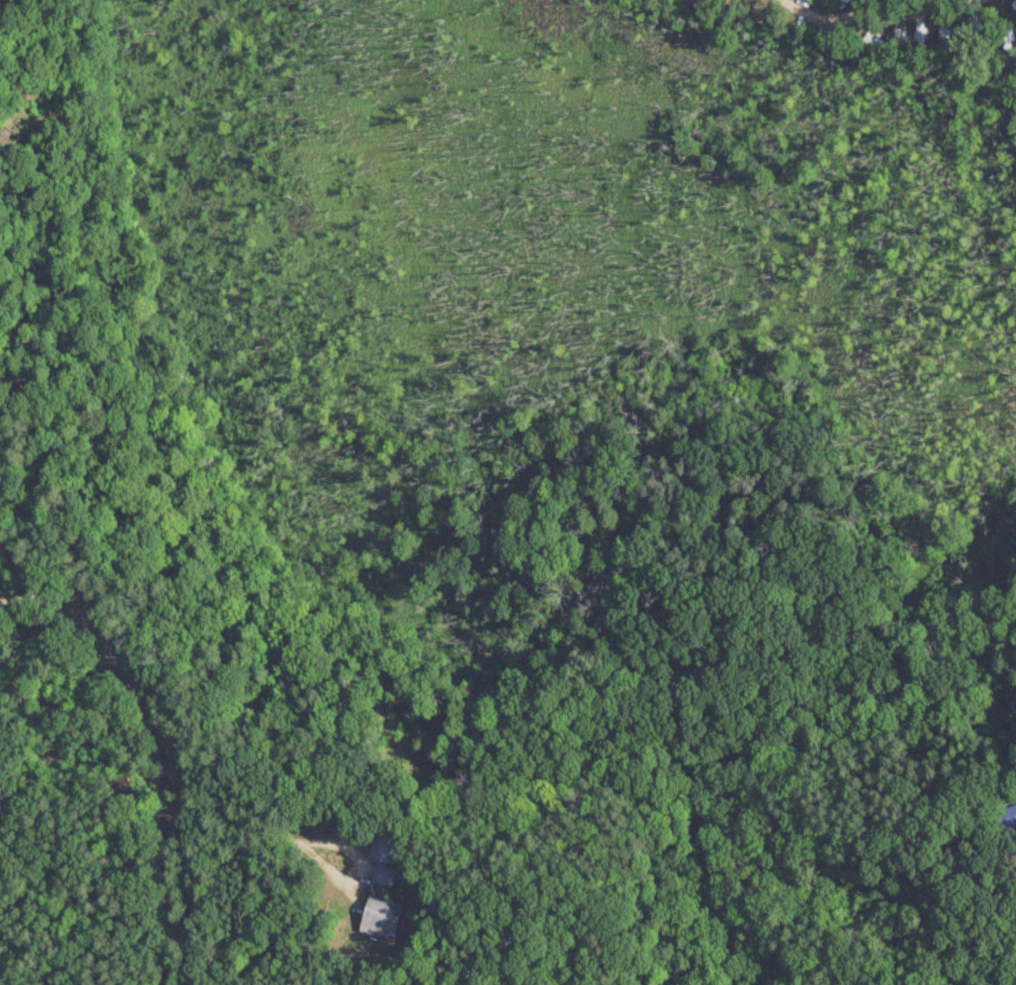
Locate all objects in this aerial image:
road: (858, 4)
road: (909, 5)
building: (1015, 7)
road: (819, 20)
road: (37, 593)
road: (151, 710)
road: (308, 831)
building: (381, 918)

